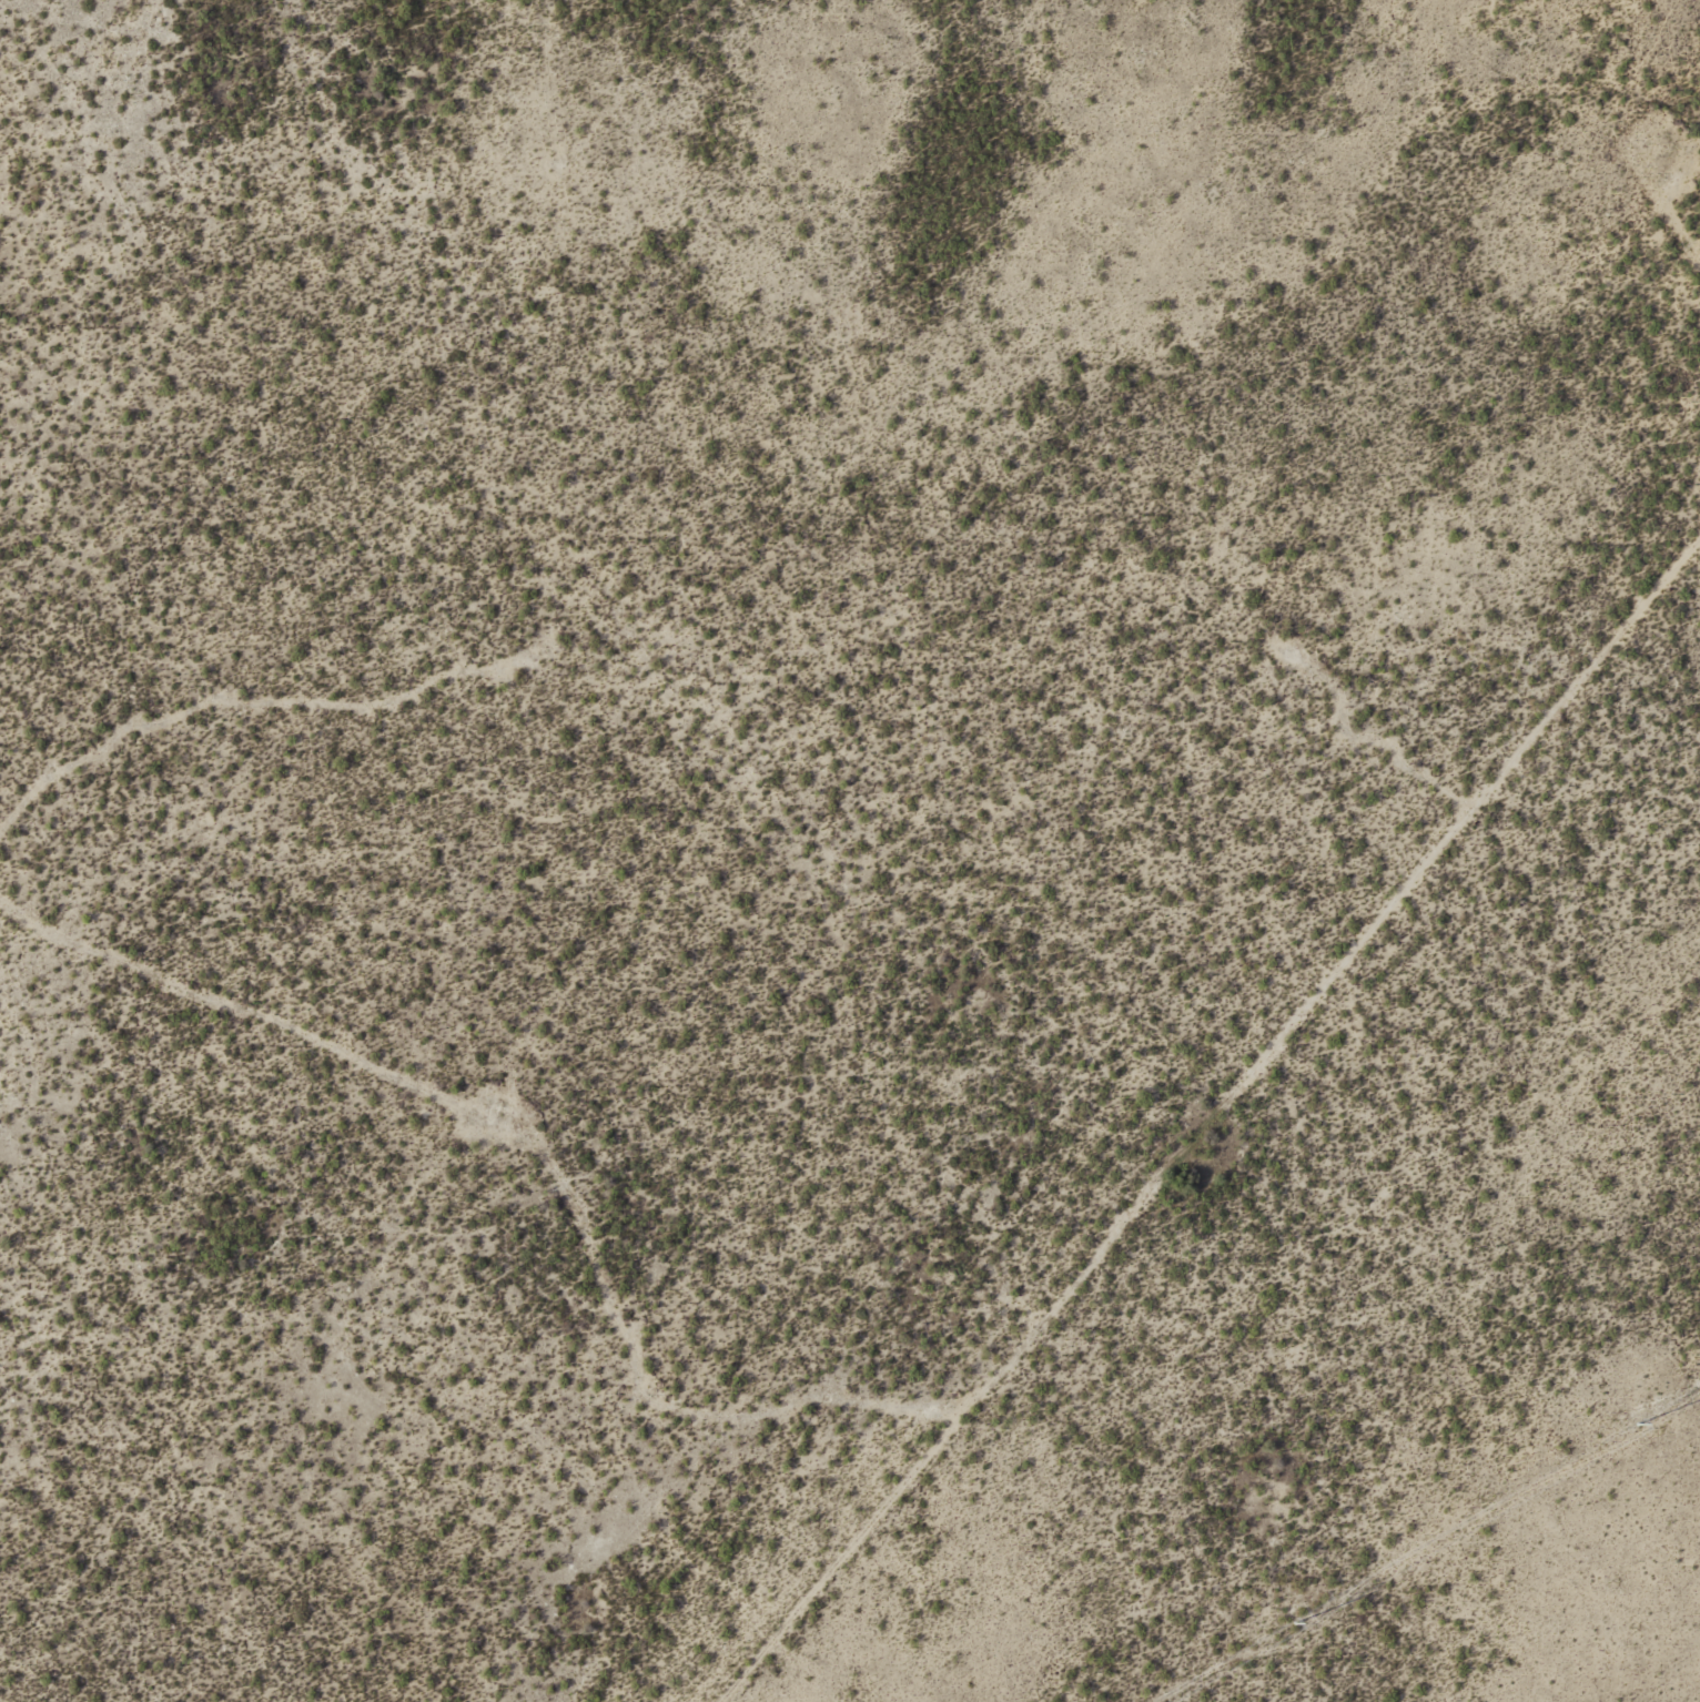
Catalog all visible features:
power tower: (1638, 1425)
power tower: (1294, 1622)

